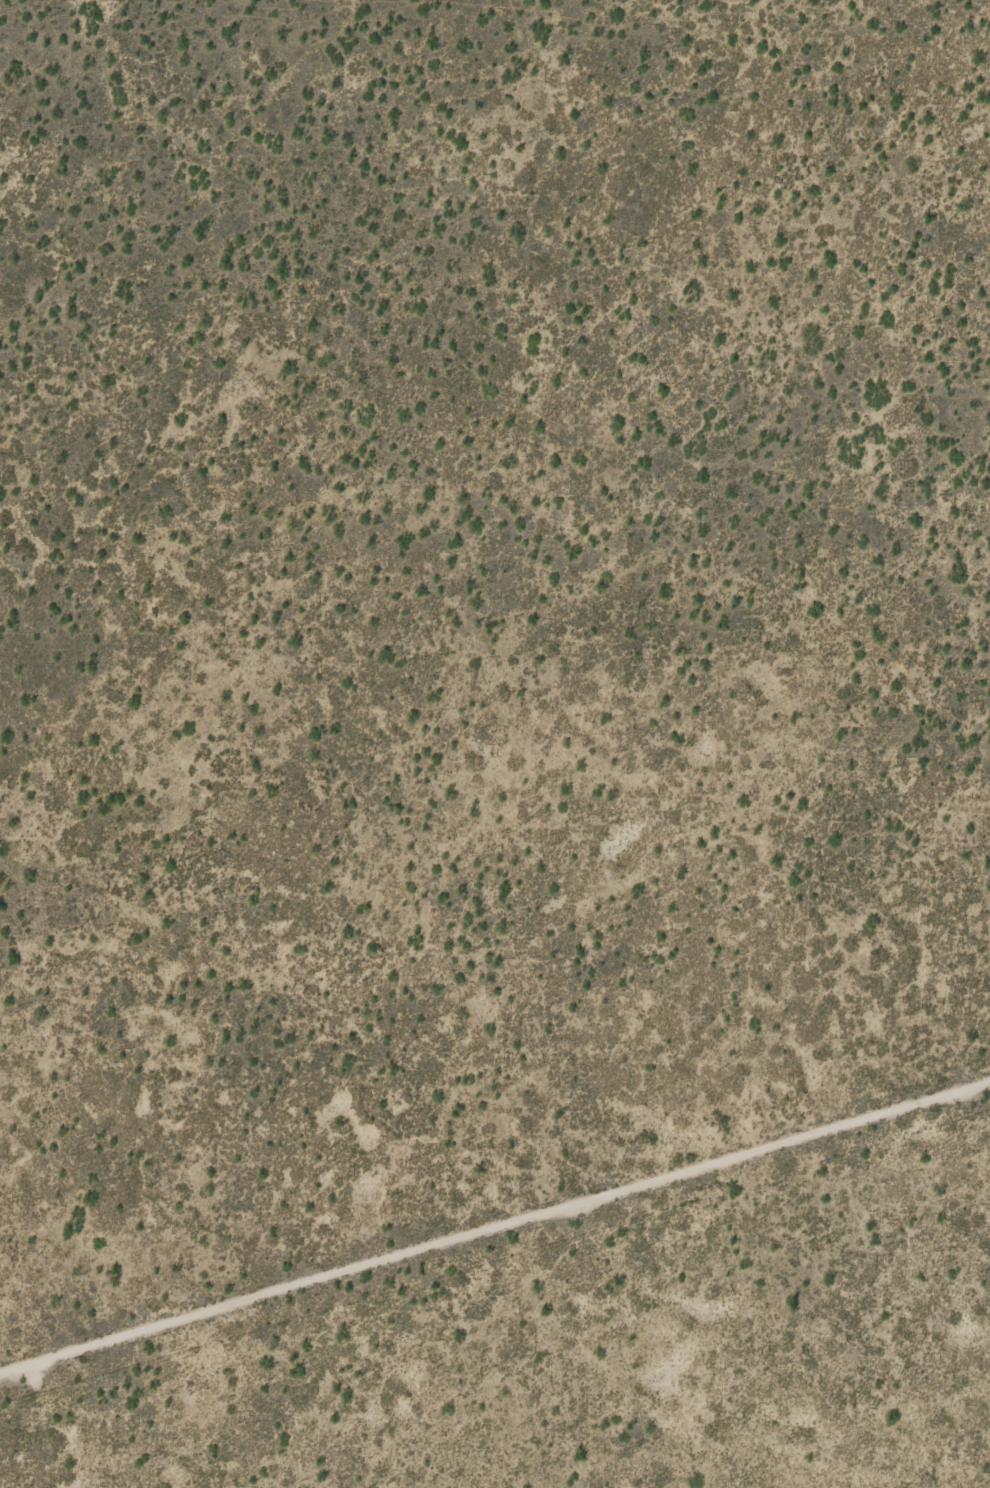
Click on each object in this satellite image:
road: (495, 1225)

